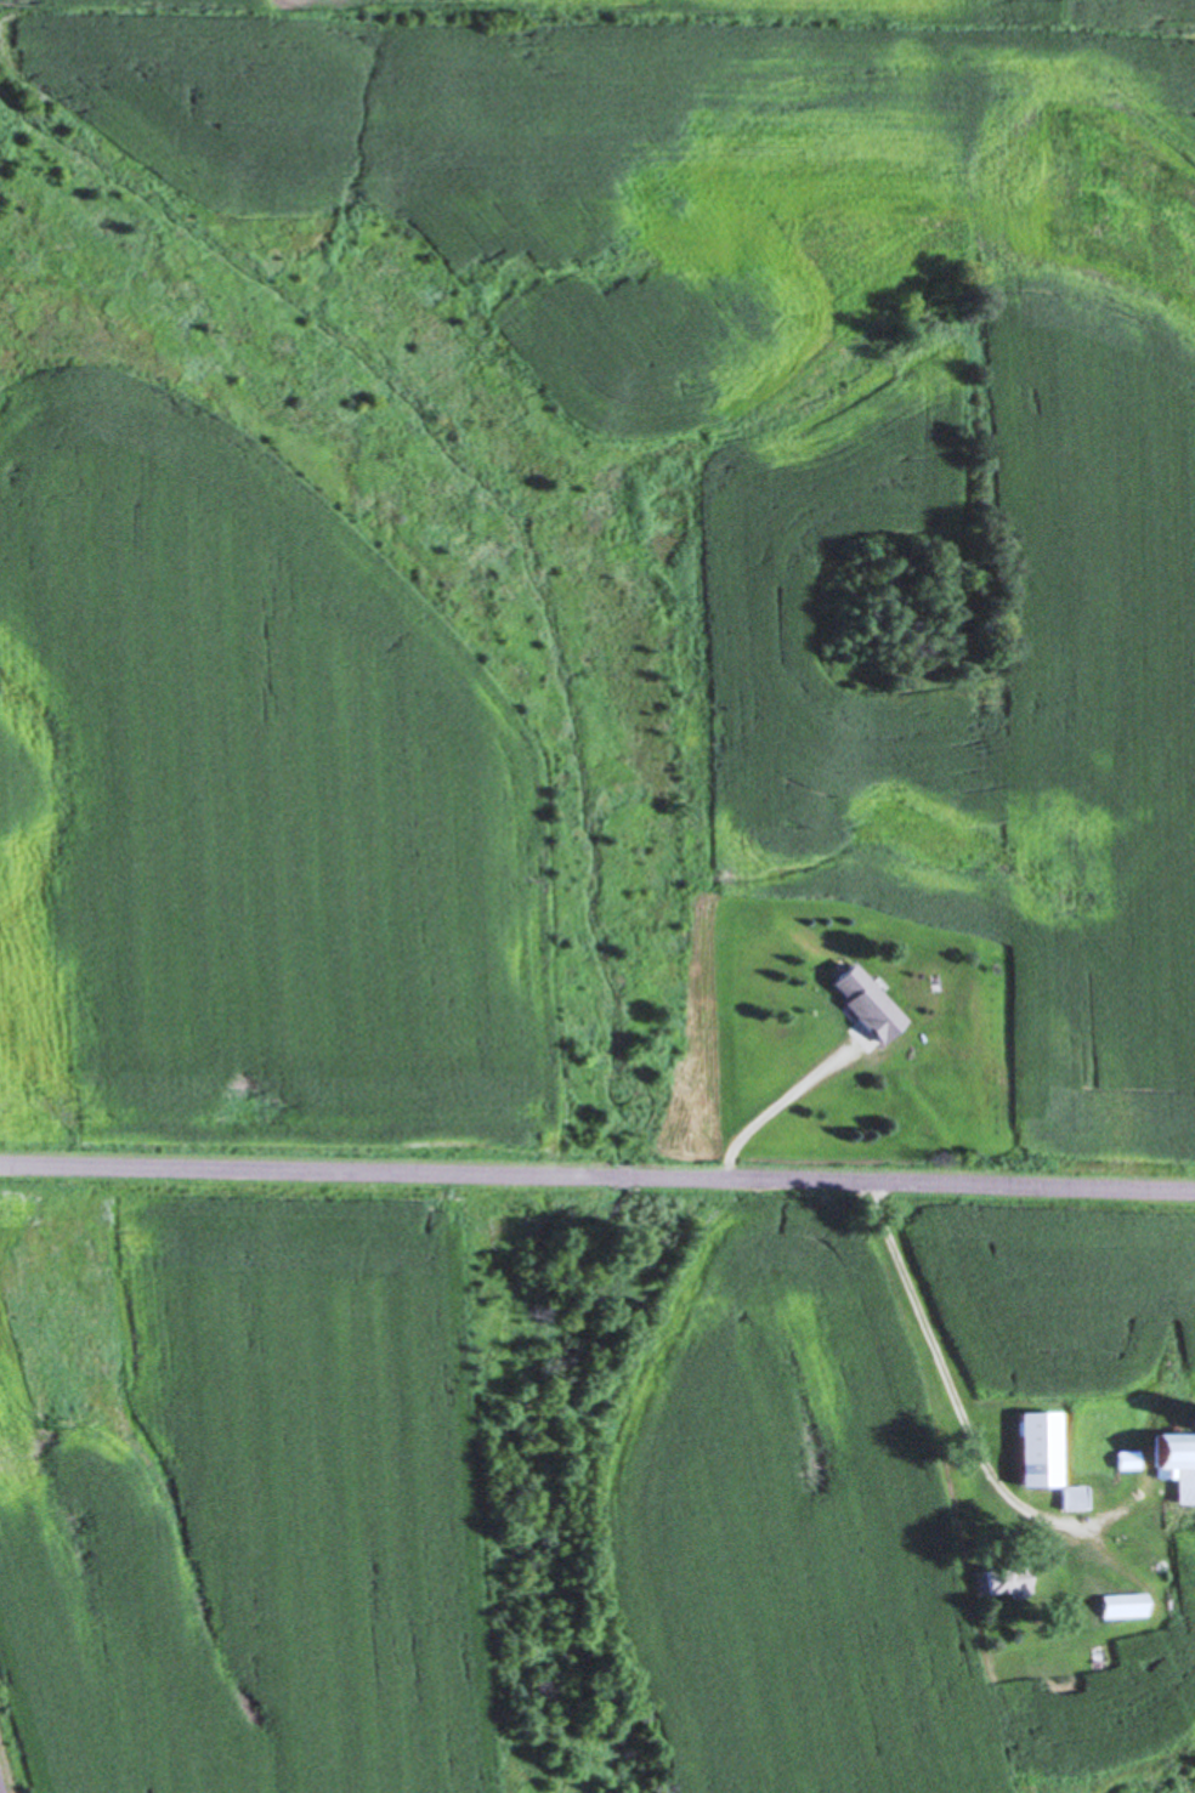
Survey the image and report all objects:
building: (865, 1004)
road: (778, 1101)
road: (597, 1171)
road: (964, 1408)
building: (1038, 1449)
building: (1166, 1469)
building: (1008, 1582)
building: (1172, 1596)
building: (1127, 1611)
building: (1122, 1663)

